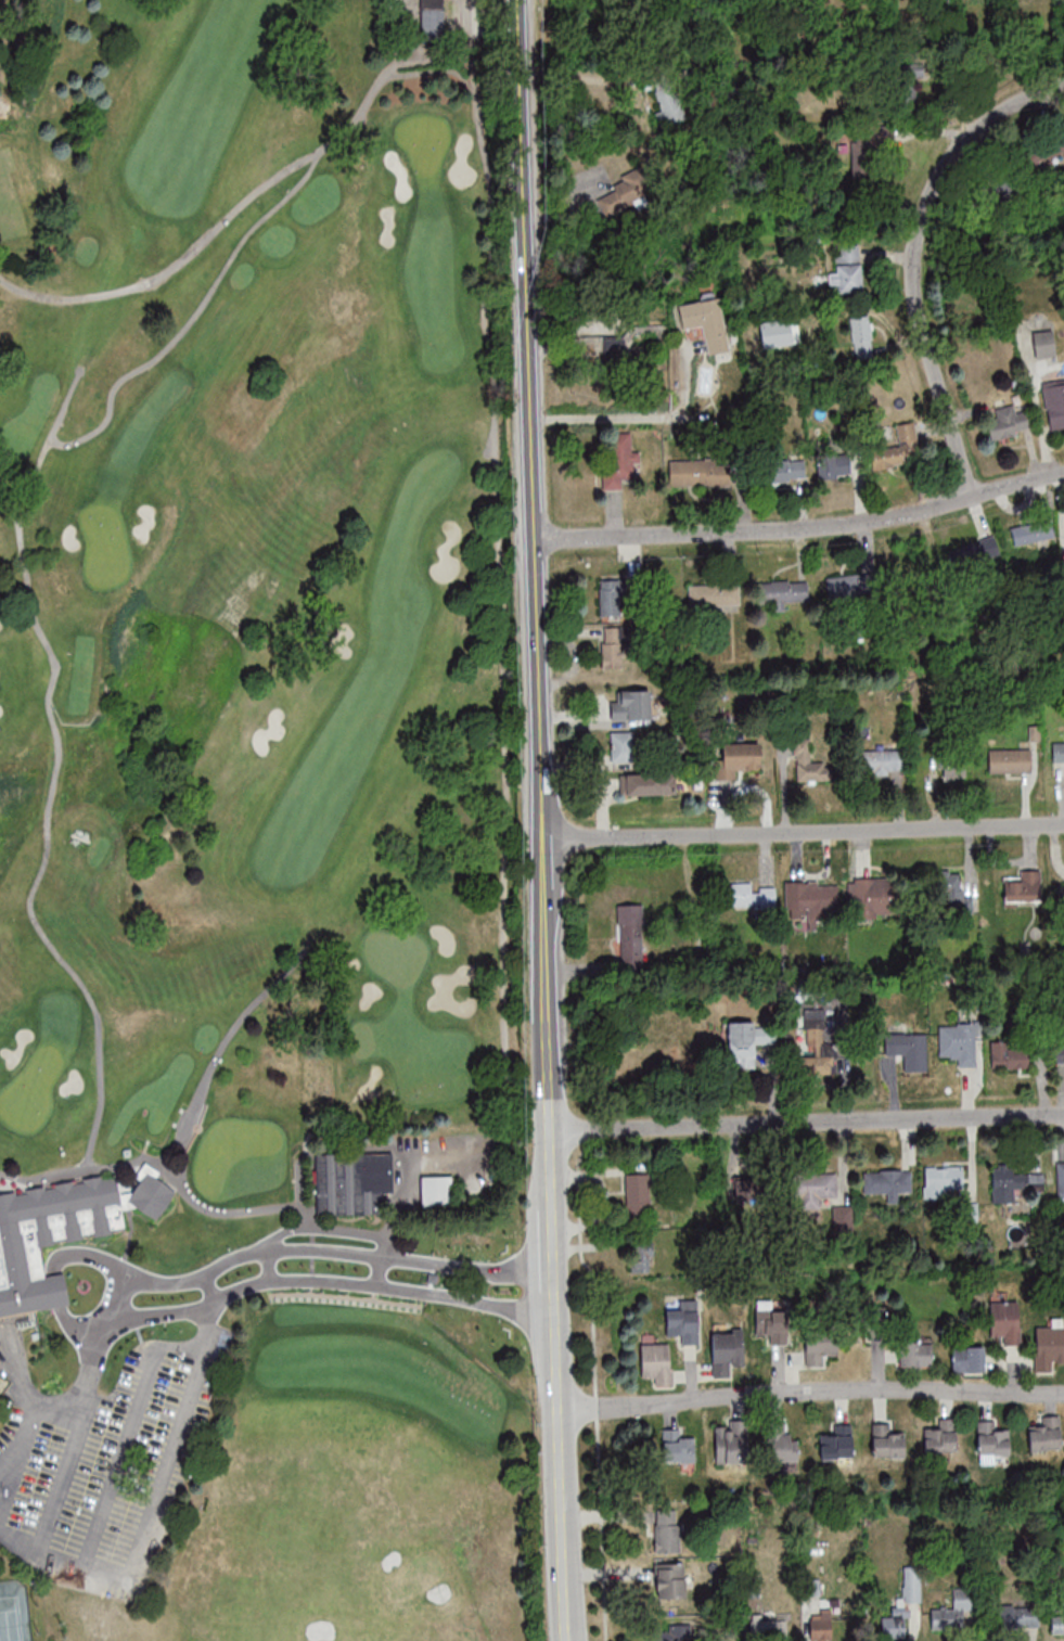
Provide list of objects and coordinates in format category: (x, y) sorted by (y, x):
building: (432, 18)
building: (900, 92)
building: (668, 103)
building: (862, 149)
building: (1042, 156)
building: (1002, 187)
building: (623, 194)
road: (910, 256)
building: (847, 270)
building: (706, 323)
building: (861, 335)
building: (602, 348)
building: (1054, 405)
road: (528, 416)
road: (633, 419)
building: (1008, 424)
building: (898, 449)
building: (618, 459)
building: (833, 465)
building: (786, 470)
building: (697, 472)
road: (800, 529)
building: (1047, 530)
building: (967, 557)
building: (846, 588)
building: (782, 593)
building: (610, 597)
building: (714, 597)
building: (611, 646)
road: (504, 666)
building: (631, 705)
building: (621, 746)
building: (734, 752)
building: (1007, 759)
building: (1060, 759)
building: (807, 761)
building: (883, 761)
building: (954, 764)
building: (648, 783)
road: (803, 832)
park: (255, 833)
road: (541, 861)
building: (947, 886)
building: (1023, 886)
building: (748, 895)
building: (1060, 896)
building: (874, 897)
building: (808, 898)
building: (630, 936)
building: (747, 1042)
building: (958, 1042)
building: (817, 1044)
road: (547, 1047)
building: (909, 1049)
building: (1009, 1055)
building: (1060, 1056)
road: (806, 1121)
building: (1060, 1178)
building: (938, 1179)
building: (884, 1180)
building: (351, 1182)
building: (1013, 1182)
building: (809, 1187)
building: (436, 1191)
building: (637, 1194)
building: (746, 1195)
building: (842, 1215)
building: (60, 1231)
road: (554, 1247)
building: (641, 1256)
road: (283, 1269)
building: (683, 1321)
building: (1004, 1322)
building: (775, 1329)
building: (1049, 1345)
building: (820, 1348)
building: (726, 1351)
building: (914, 1354)
building: (967, 1360)
building: (656, 1362)
building: (1, 1385)
road: (811, 1390)
road: (29, 1418)
building: (1046, 1434)
building: (988, 1437)
building: (935, 1439)
building: (728, 1440)
building: (883, 1440)
building: (777, 1441)
building: (837, 1443)
building: (677, 1446)
road: (562, 1464)
parking lot: (69, 1516)
building: (666, 1530)
road: (15, 1548)
road: (129, 1554)
building: (669, 1579)
building: (911, 1586)
park: (13, 1613)
building: (954, 1613)
building: (1017, 1615)
building: (1056, 1624)
building: (892, 1625)
building: (768, 1628)
building: (820, 1628)
building: (671, 1632)

